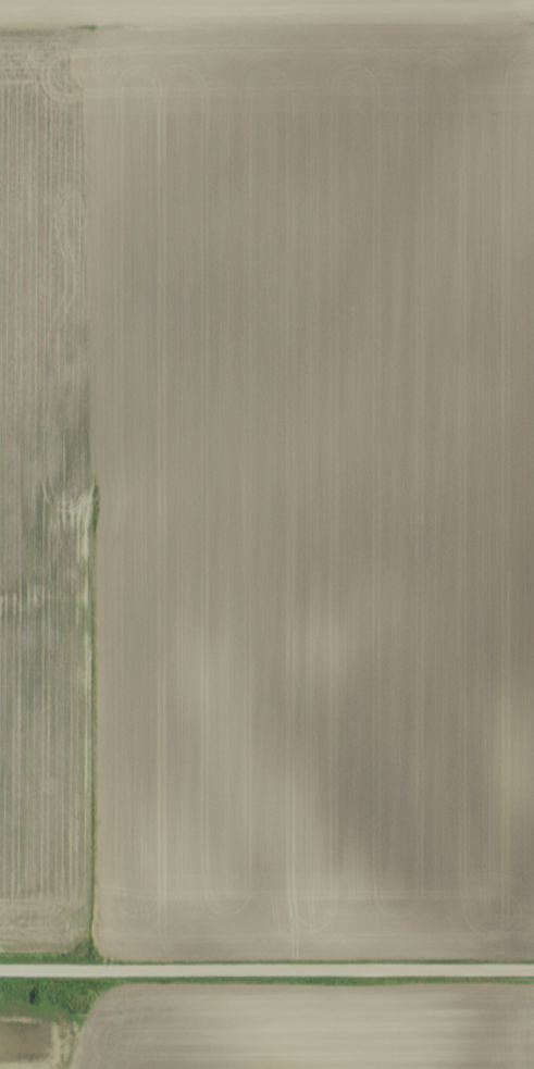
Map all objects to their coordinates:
road: (266, 975)

